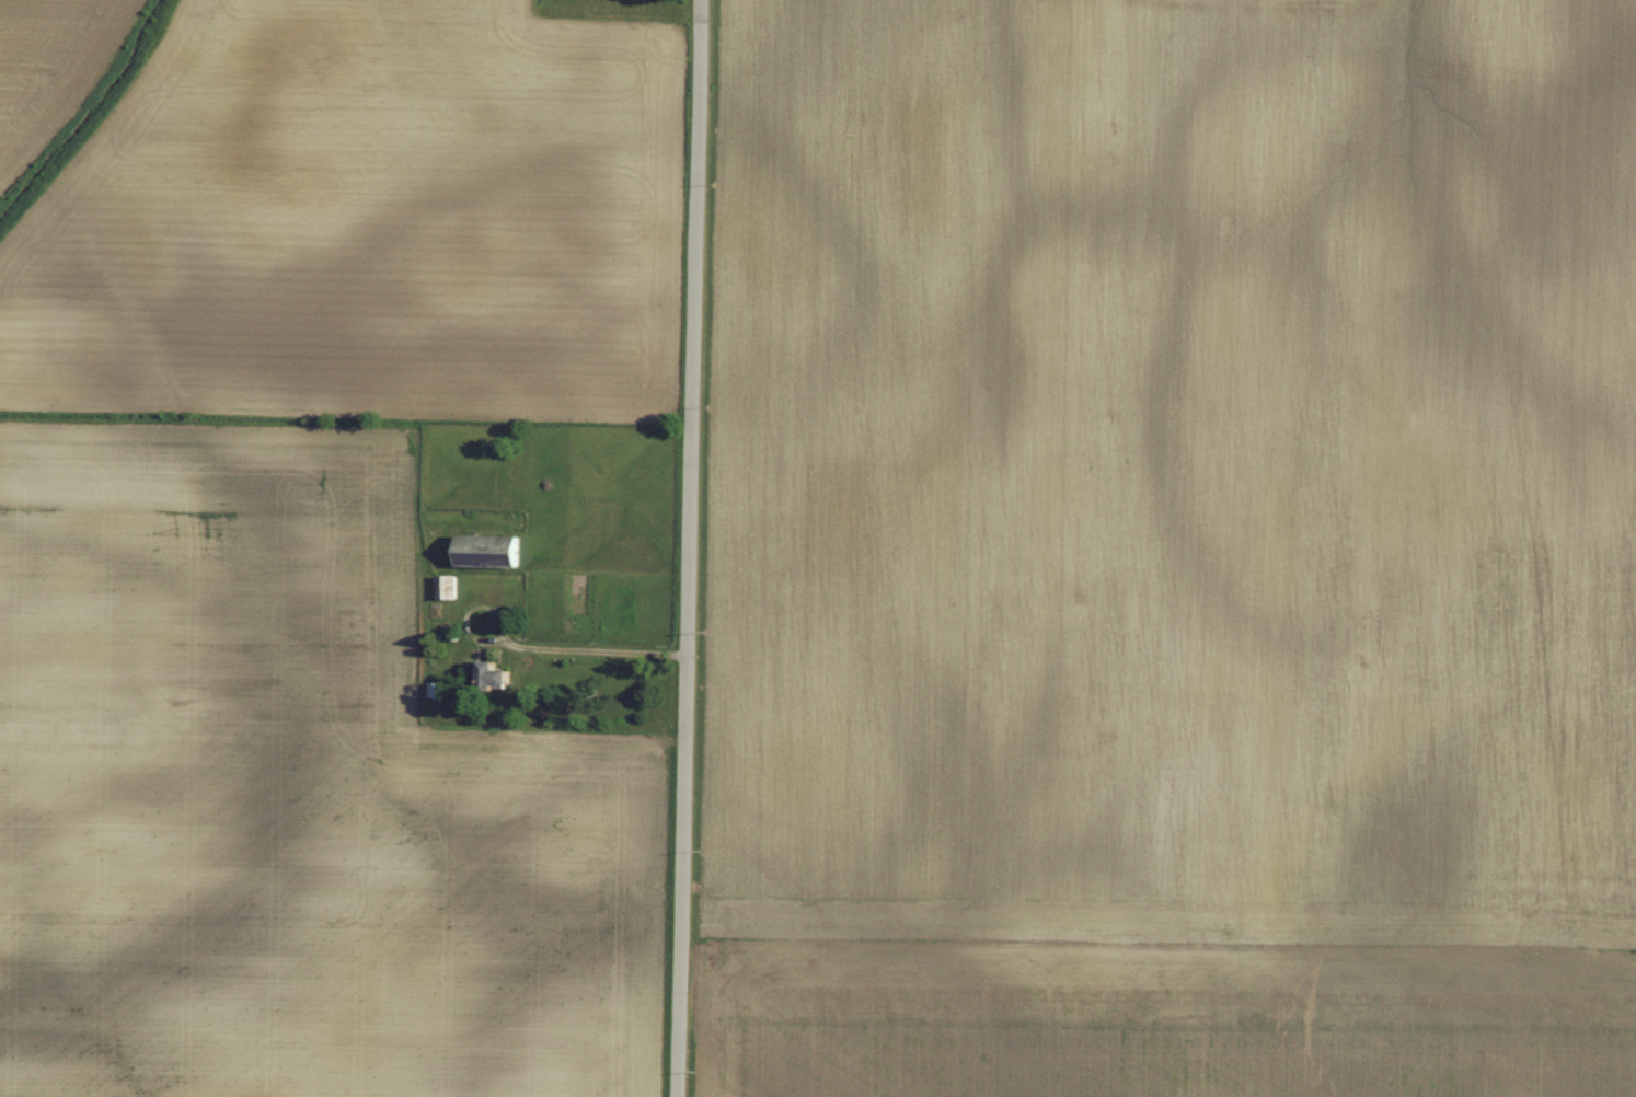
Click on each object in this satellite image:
building: (492, 546)
road: (690, 548)
road: (556, 645)
building: (492, 667)
building: (437, 685)

